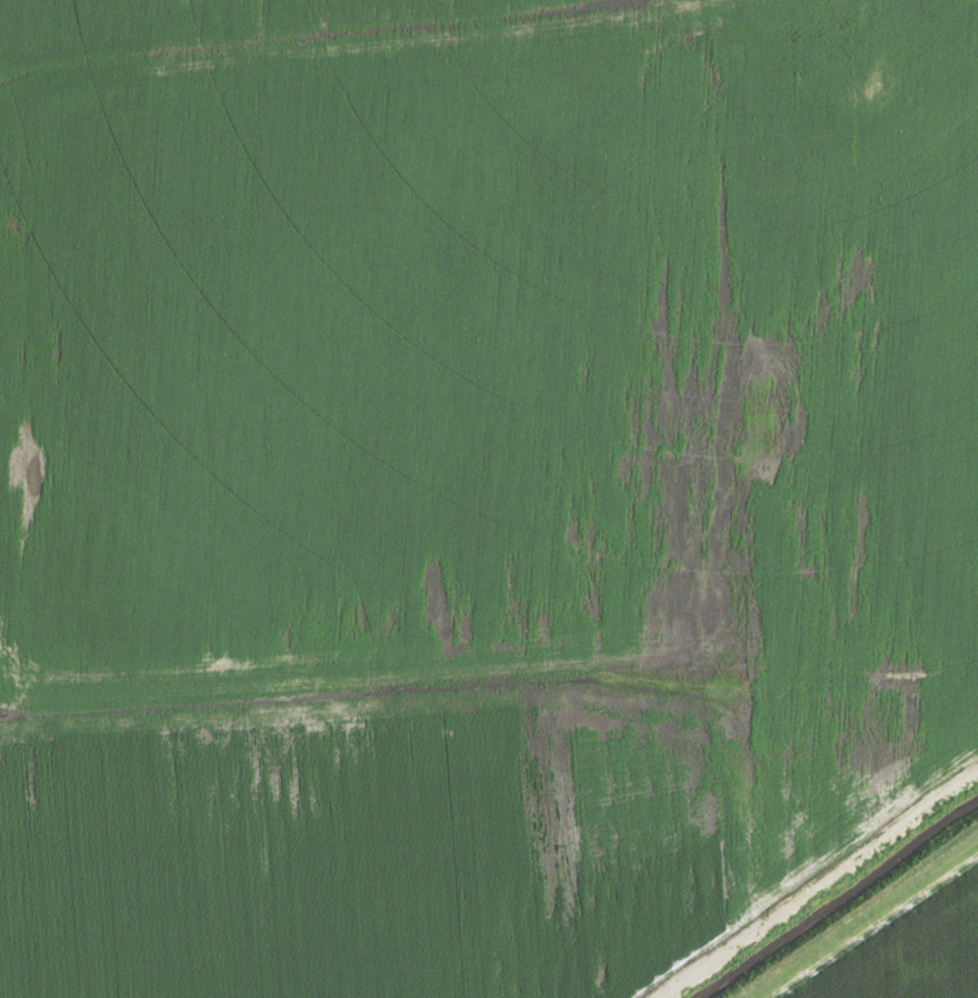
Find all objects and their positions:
road: (633, 12)

